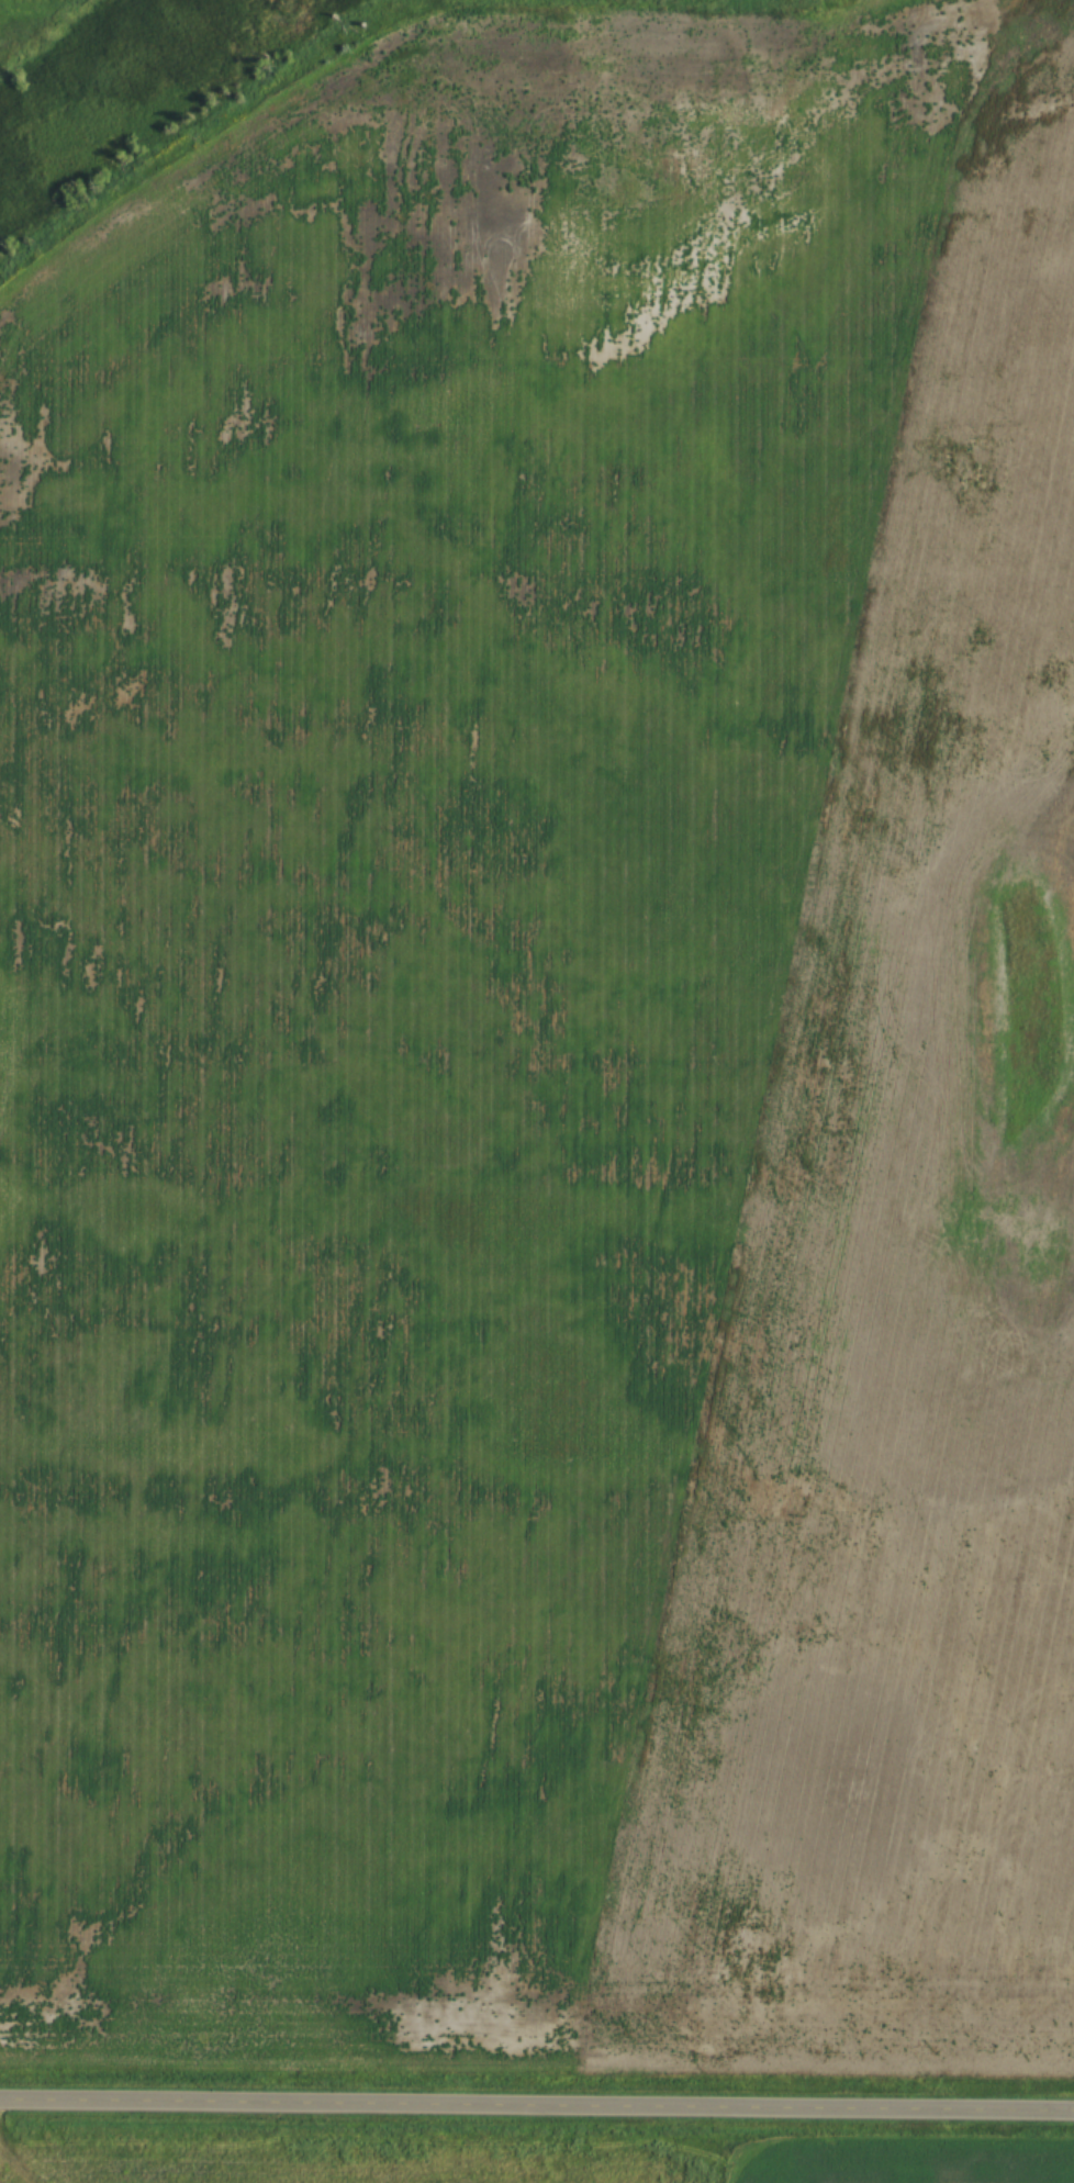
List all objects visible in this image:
road: (537, 2108)

